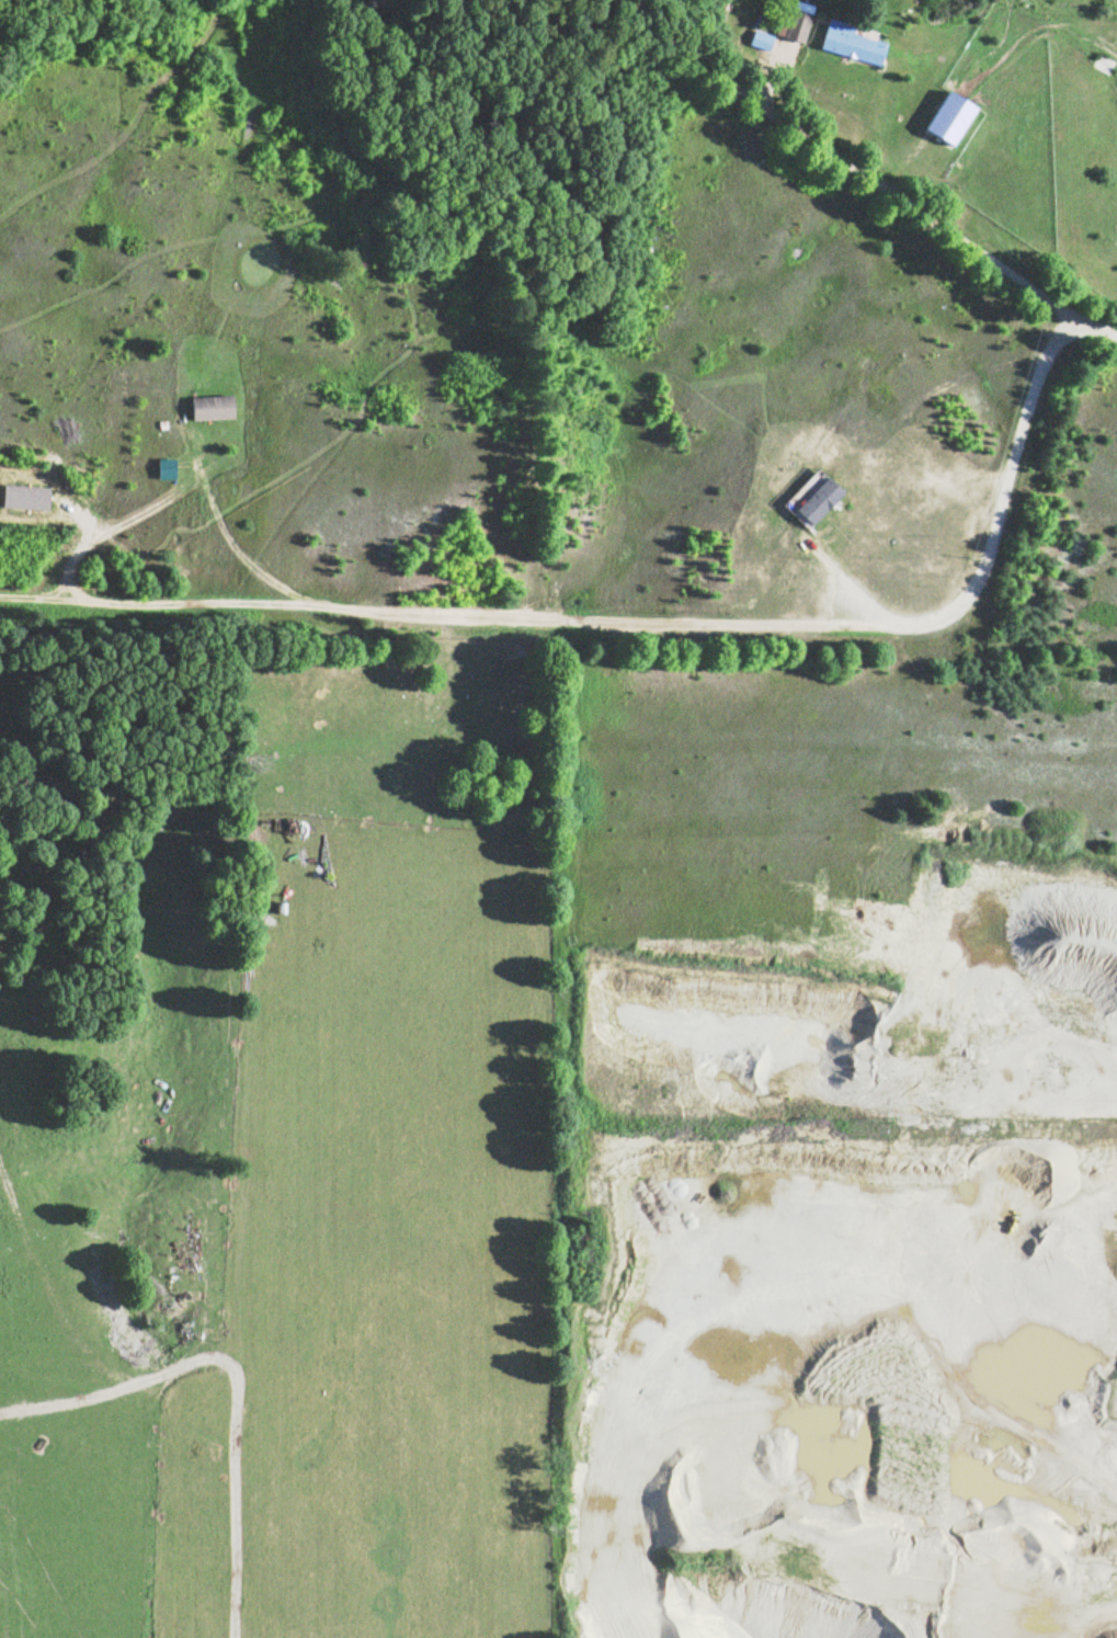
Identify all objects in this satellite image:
building: (791, 21)
building: (851, 43)
building: (1099, 61)
road: (837, 156)
road: (1087, 322)
building: (868, 361)
building: (214, 407)
road: (999, 490)
building: (819, 499)
road: (854, 589)
road: (490, 614)
quarry: (858, 1332)

